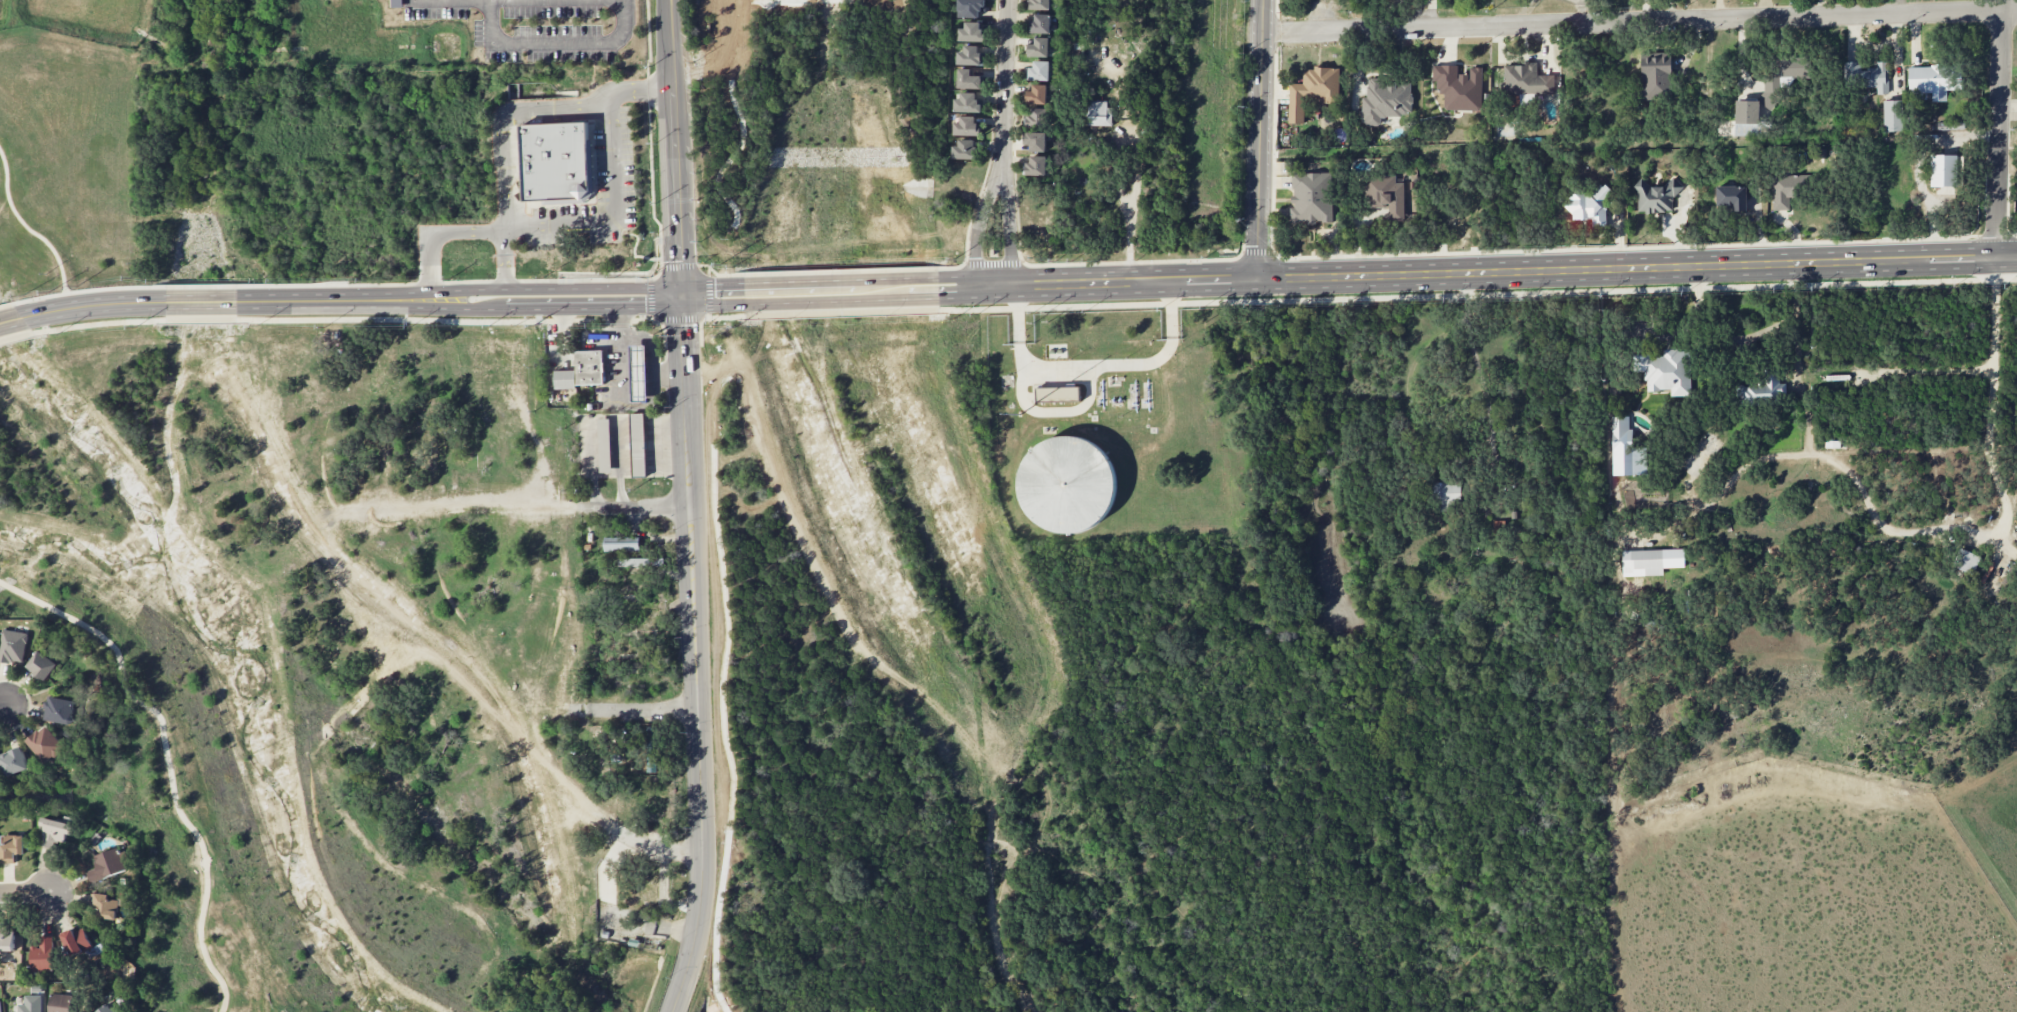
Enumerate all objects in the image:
road: (428, 0)
building: (1037, 4)
building: (969, 8)
road: (1639, 21)
building: (1038, 24)
building: (972, 31)
road: (552, 42)
building: (1037, 48)
building: (969, 55)
road: (897, 59)
building: (1037, 71)
building: (1655, 74)
building: (1780, 75)
building: (1864, 75)
building: (969, 79)
building: (1525, 80)
building: (1931, 80)
road: (1001, 82)
building: (1458, 87)
building: (1312, 90)
building: (1035, 94)
building: (1383, 99)
building: (967, 102)
road: (503, 112)
building: (1099, 113)
building: (1891, 114)
building: (1035, 117)
building: (1745, 118)
road: (916, 121)
building: (1949, 124)
building: (967, 125)
road: (1999, 127)
road: (1259, 138)
building: (1034, 140)
road: (677, 148)
building: (966, 149)
building: (559, 162)
building: (1033, 165)
building: (1945, 170)
road: (930, 178)
road: (650, 179)
building: (1786, 188)
building: (1384, 195)
building: (1654, 195)
building: (1310, 197)
building: (1731, 197)
building: (1588, 205)
road: (1130, 208)
road: (549, 224)
road: (977, 224)
road: (1007, 226)
road: (29, 230)
road: (1075, 263)
road: (678, 264)
road: (992, 265)
road: (957, 266)
road: (843, 269)
road: (1476, 271)
road: (714, 272)
road: (458, 282)
road: (204, 285)
road: (554, 287)
road: (82, 290)
road: (706, 291)
road: (840, 293)
road: (1477, 294)
road: (713, 296)
road: (649, 297)
traffic signals: (683, 298)
road: (330, 300)
road: (200, 301)
road: (5, 304)
road: (92, 304)
road: (464, 307)
road: (593, 307)
road: (1175, 310)
road: (841, 312)
road: (1016, 314)
road: (202, 319)
road: (10, 320)
road: (491, 321)
road: (100, 323)
building: (569, 328)
road: (16, 335)
road: (1093, 365)
building: (591, 366)
road: (669, 370)
building: (1664, 370)
building: (641, 371)
gas station: (641, 371)
building: (564, 377)
building: (1763, 389)
building: (1057, 393)
road: (1990, 393)
road: (1804, 403)
road: (636, 406)
road: (1058, 412)
building: (1620, 433)
building: (640, 443)
building: (605, 444)
building: (1066, 484)
storage tank: (1066, 484)
building: (1444, 492)
road: (1872, 508)
road: (636, 509)
building: (620, 542)
building: (1964, 559)
building: (638, 560)
building: (1646, 560)
road: (693, 575)
building: (12, 646)
park: (337, 657)
building: (42, 665)
road: (2, 706)
building: (60, 710)
road: (644, 710)
building: (46, 744)
building: (650, 748)
building: (14, 762)
road: (168, 763)
building: (54, 832)
road: (1308, 840)
building: (11, 847)
road: (673, 854)
building: (107, 864)
road: (25, 894)
building: (106, 906)
road: (994, 917)
road: (696, 934)
building: (6, 938)
building: (79, 943)
building: (42, 955)
building: (60, 1003)
building: (31, 1004)
building: (0, 1007)
building: (108, 1008)

